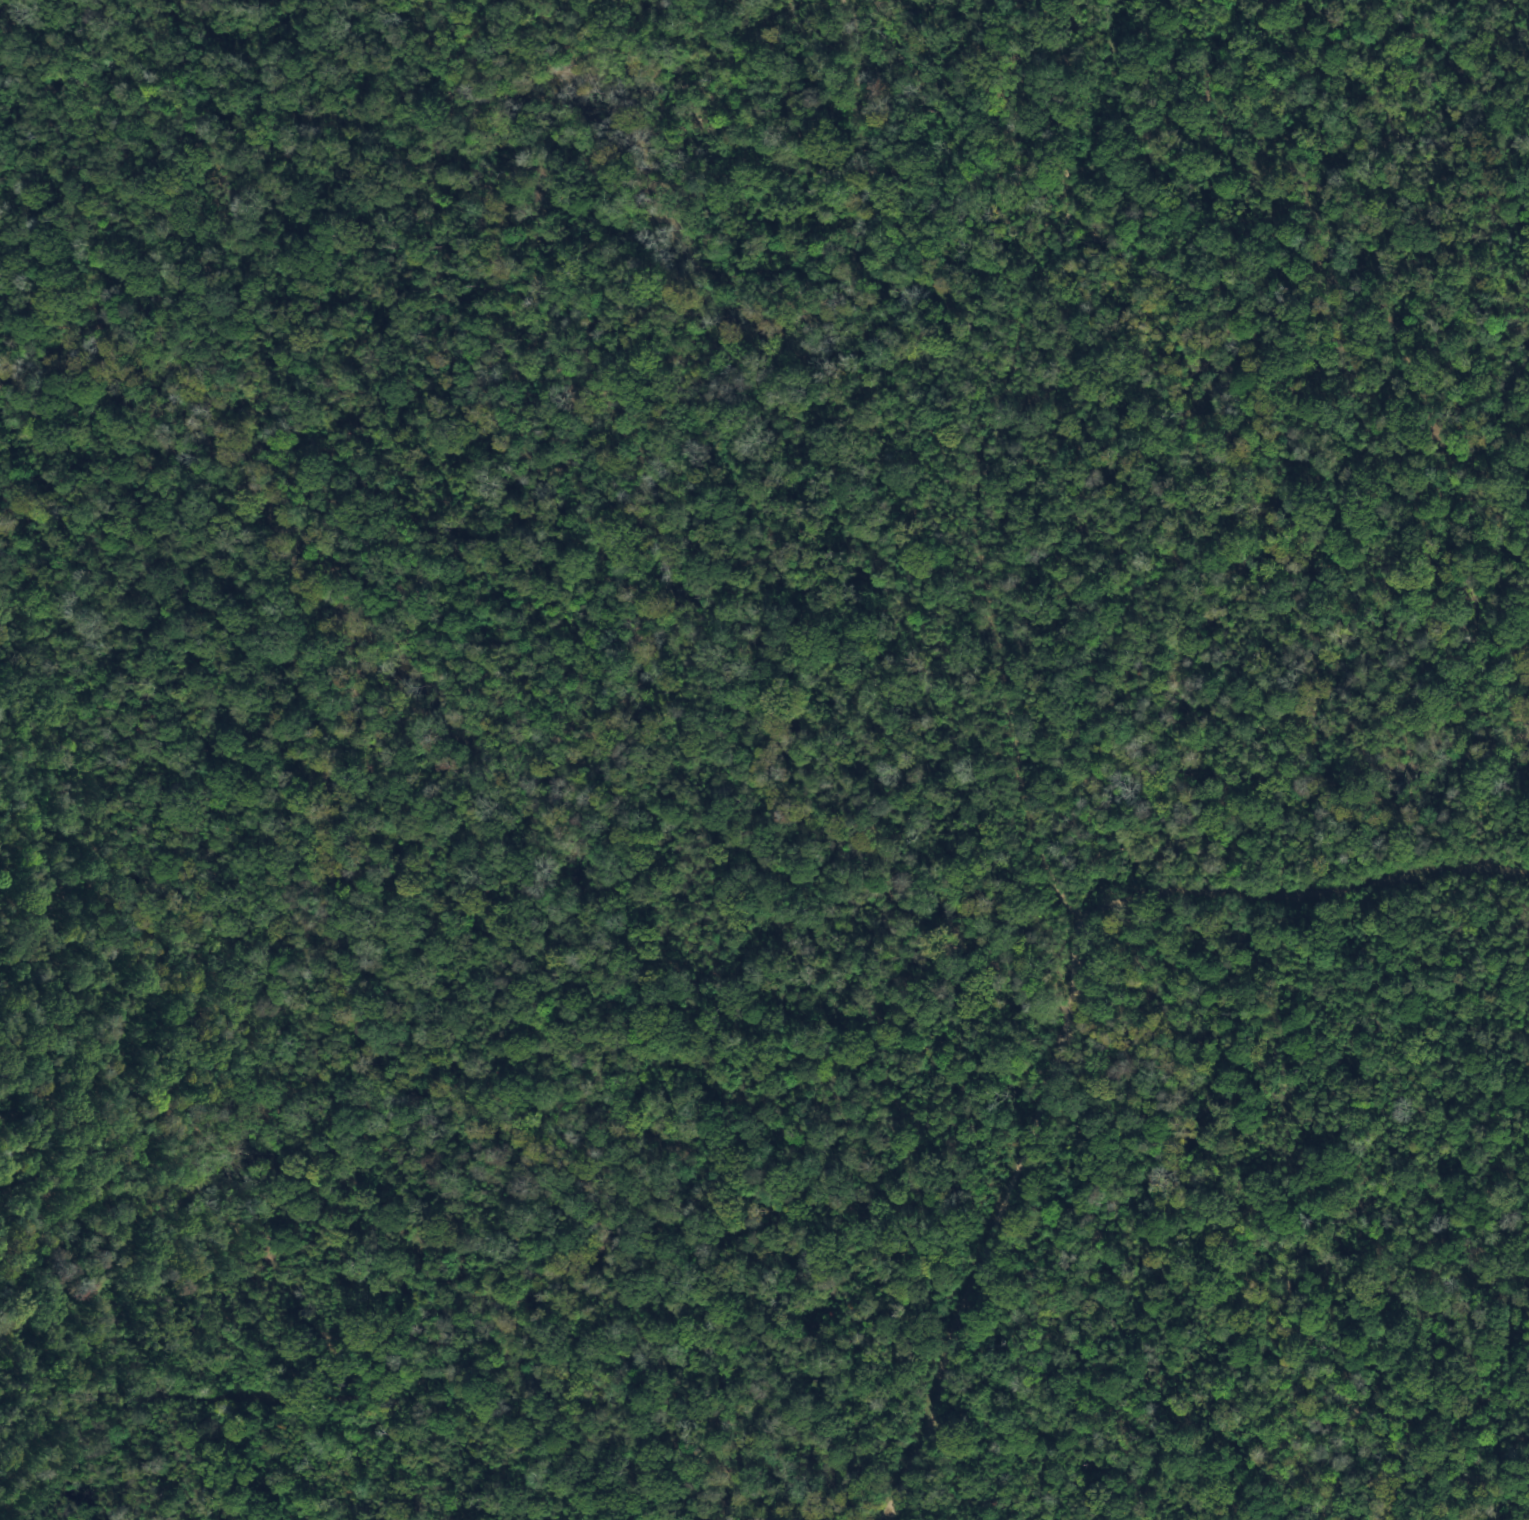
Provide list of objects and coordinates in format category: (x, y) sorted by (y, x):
road: (1036, 770)

